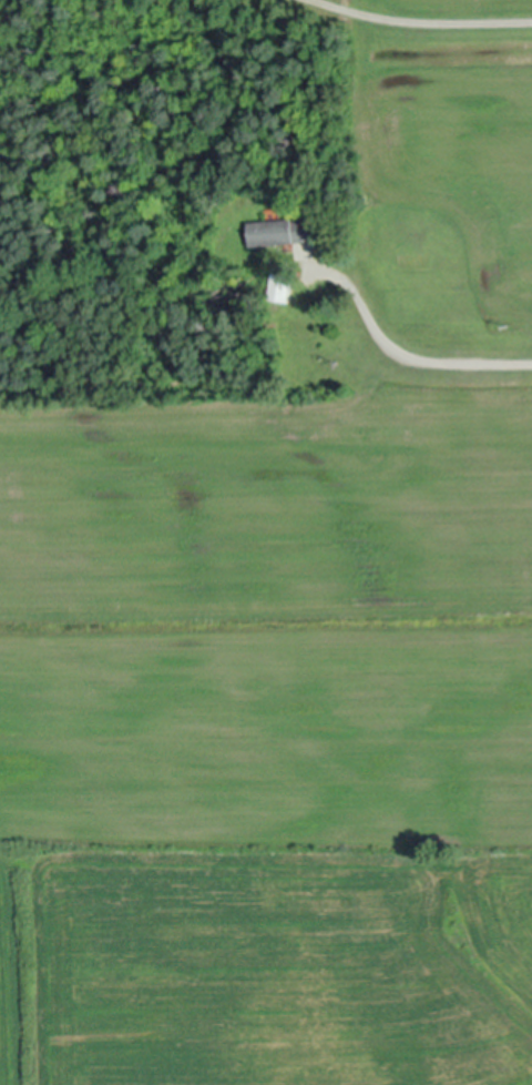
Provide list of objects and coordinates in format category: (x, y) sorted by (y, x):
road: (426, 18)
building: (278, 229)
building: (278, 284)
road: (410, 349)

